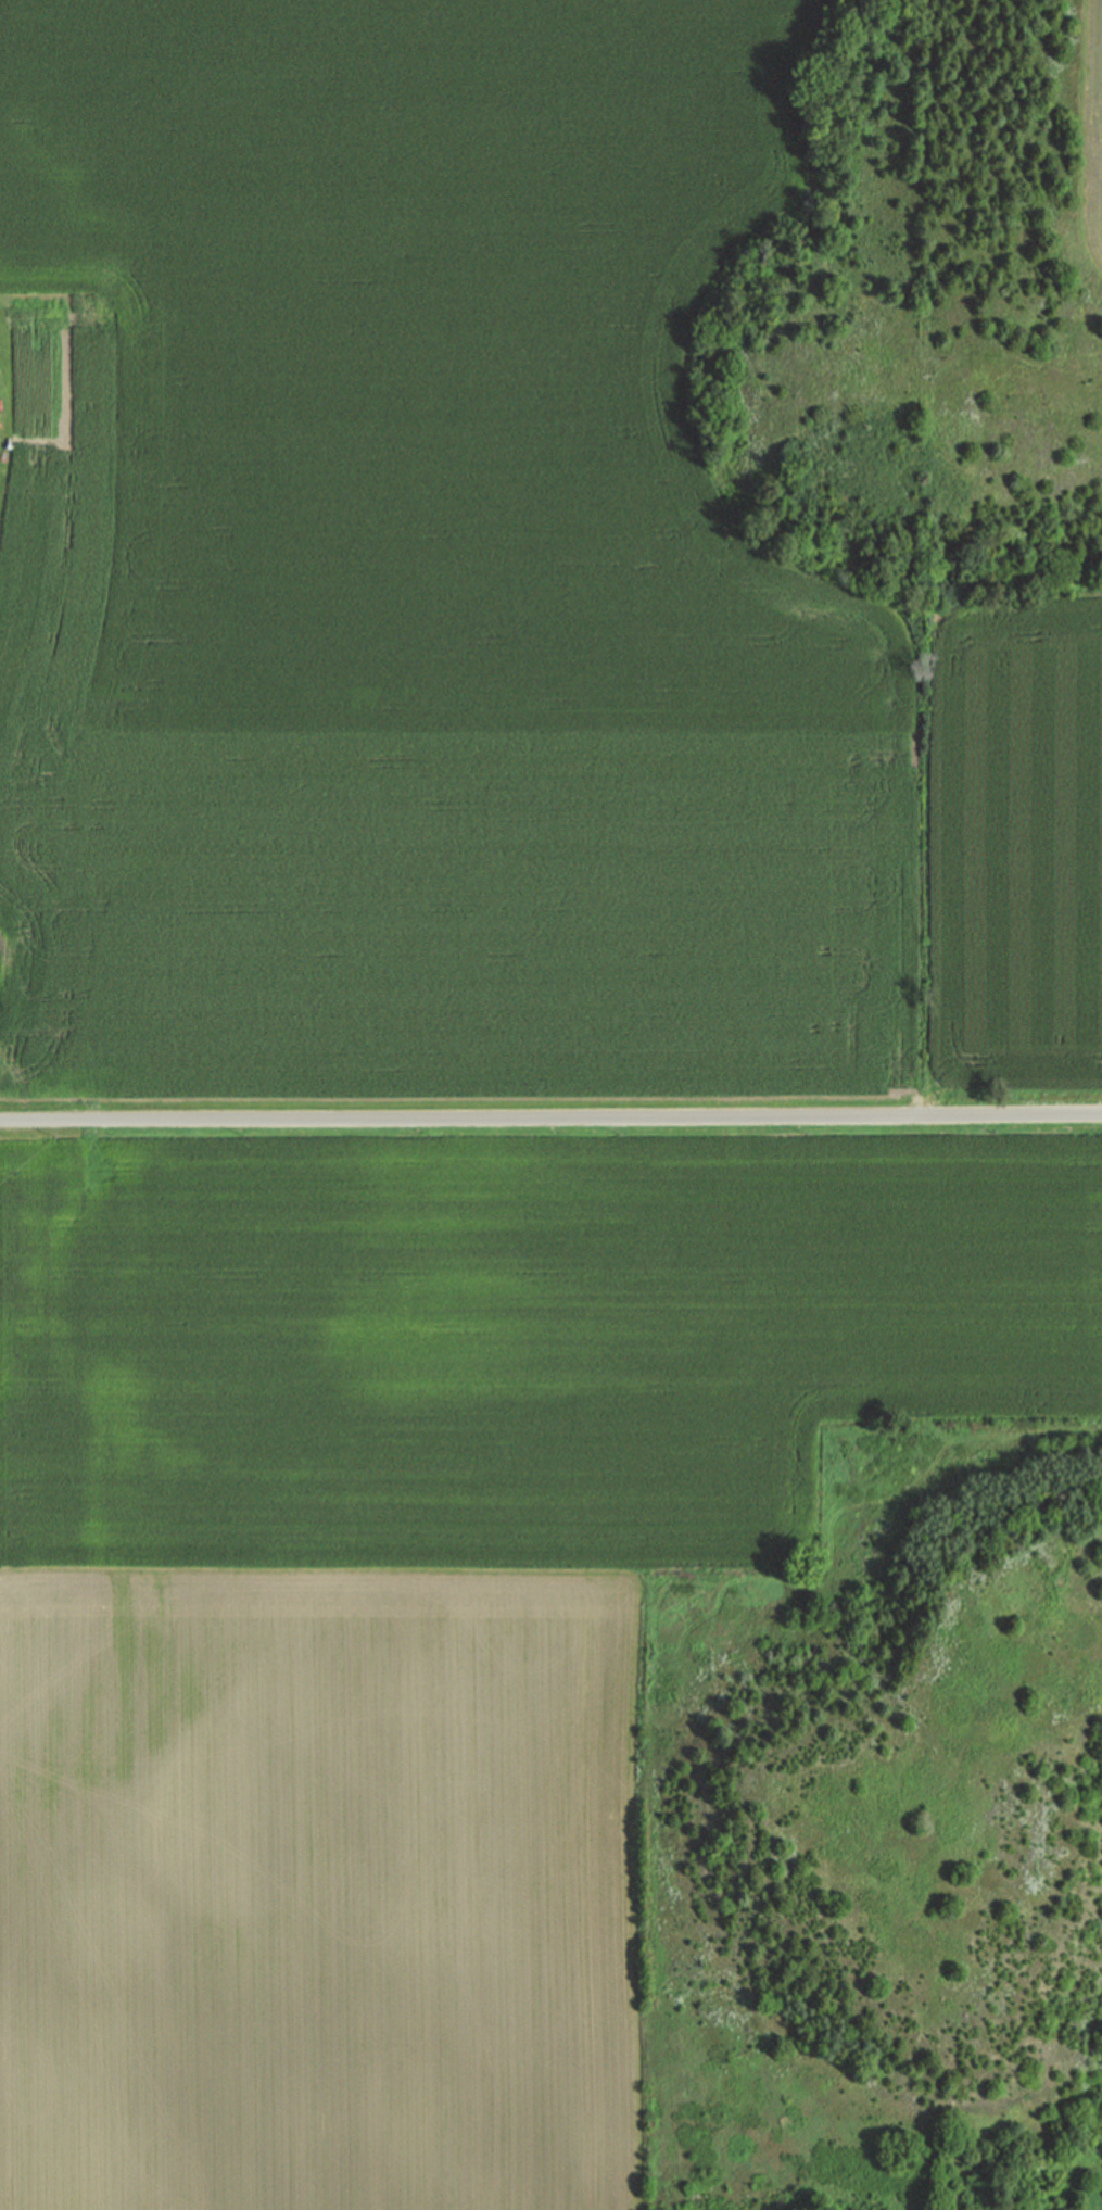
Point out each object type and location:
road: (550, 1116)

